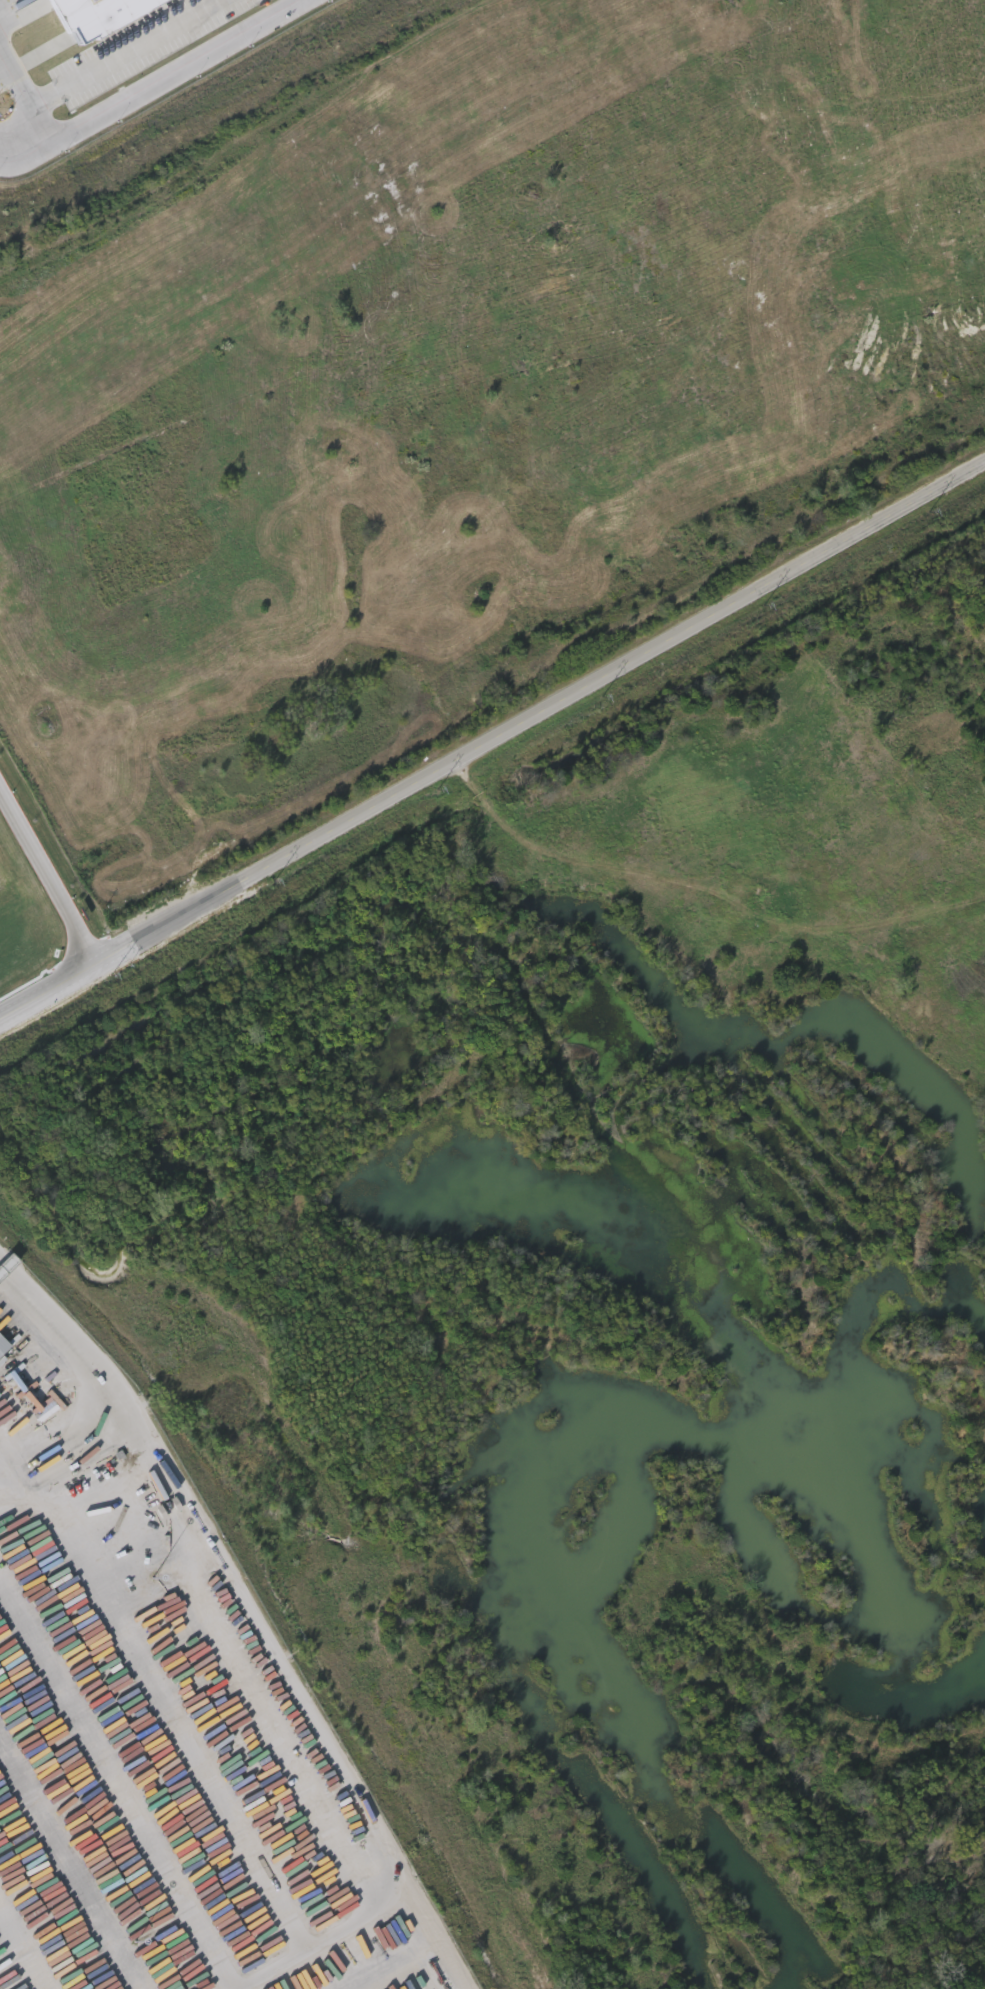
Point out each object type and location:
building: (99, 16)
road: (97, 63)
road: (159, 90)
road: (536, 710)
road: (44, 883)
road: (705, 885)
road: (45, 991)
road: (5, 1270)
building: (1, 1333)
road: (71, 1342)
building: (3, 1346)
road: (65, 1449)
road: (7, 1465)
road: (317, 1723)
road: (428, 1930)

